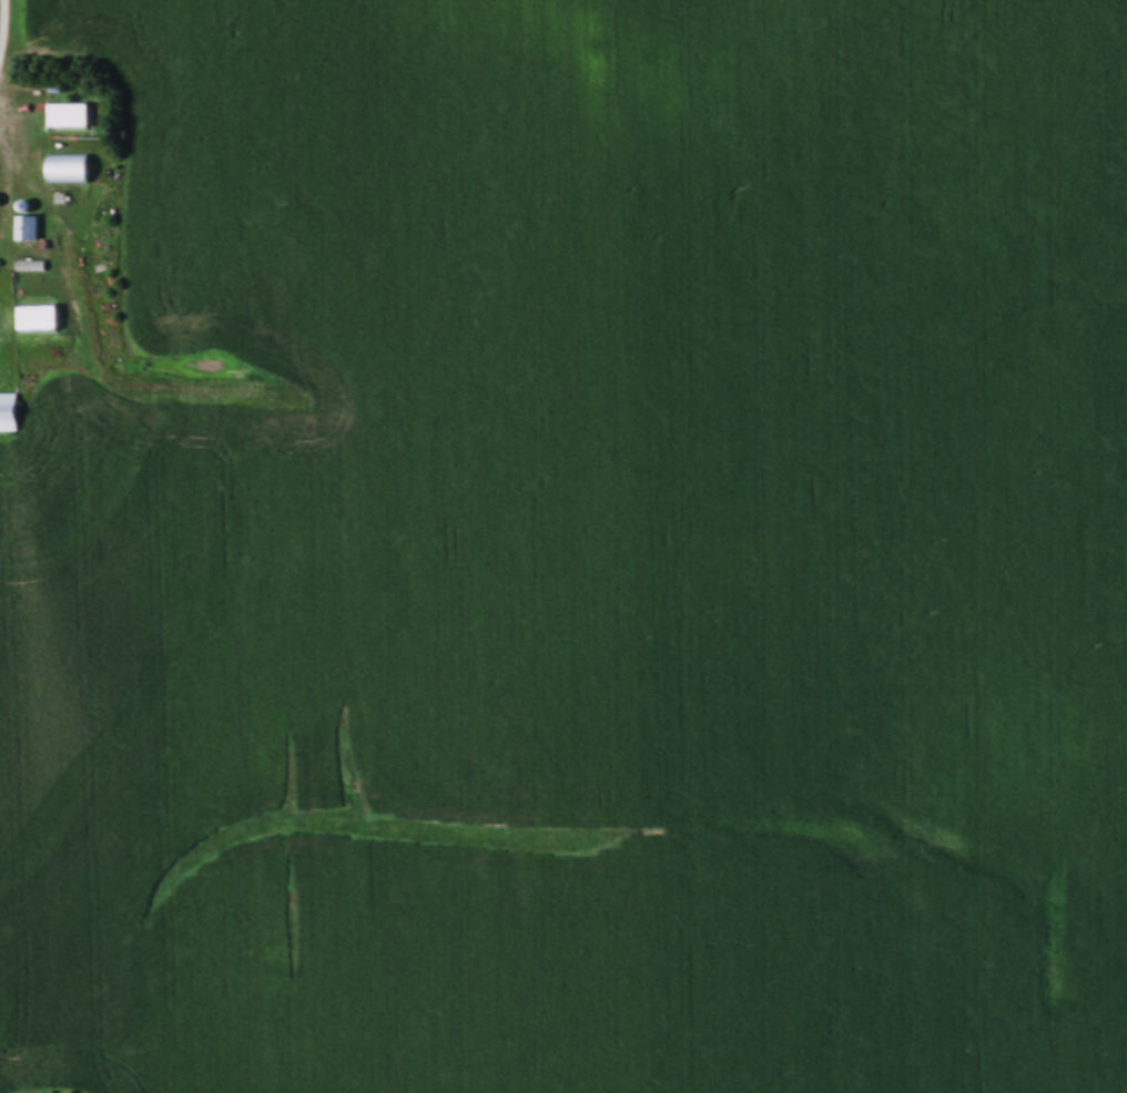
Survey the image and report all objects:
road: (6, 42)
building: (69, 116)
building: (69, 168)
building: (28, 228)
building: (39, 319)
building: (8, 411)

